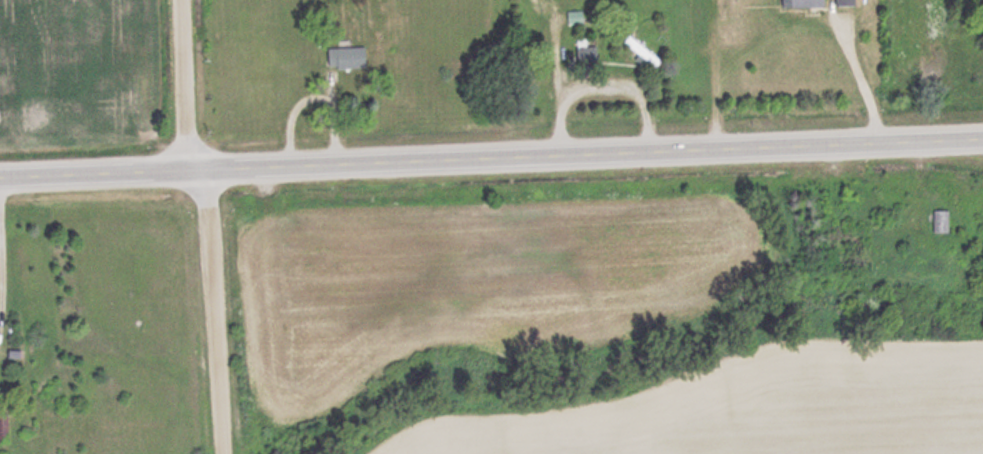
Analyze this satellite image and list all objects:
building: (806, 4)
building: (848, 4)
building: (578, 18)
building: (590, 56)
building: (350, 59)
road: (174, 81)
road: (491, 151)
building: (943, 223)
road: (208, 307)
building: (16, 355)
building: (4, 428)

